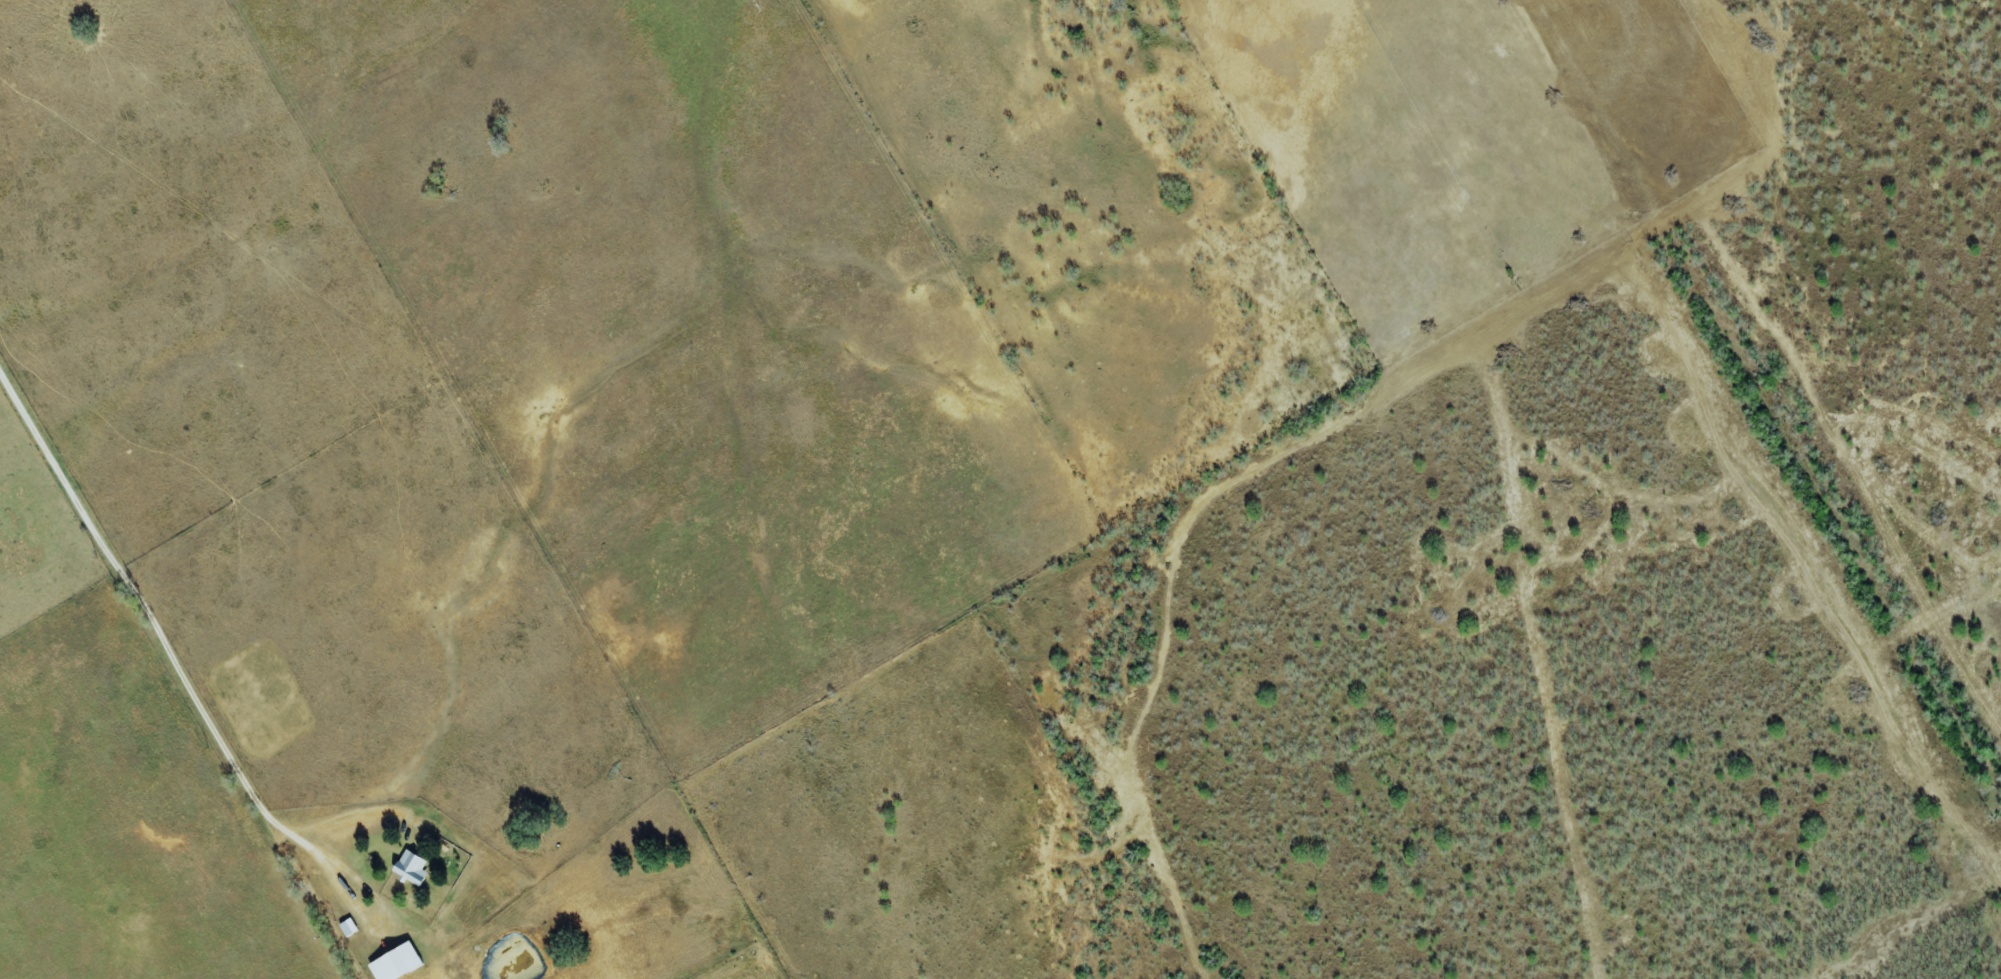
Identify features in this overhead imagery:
road: (149, 611)
building: (410, 869)
building: (395, 963)

